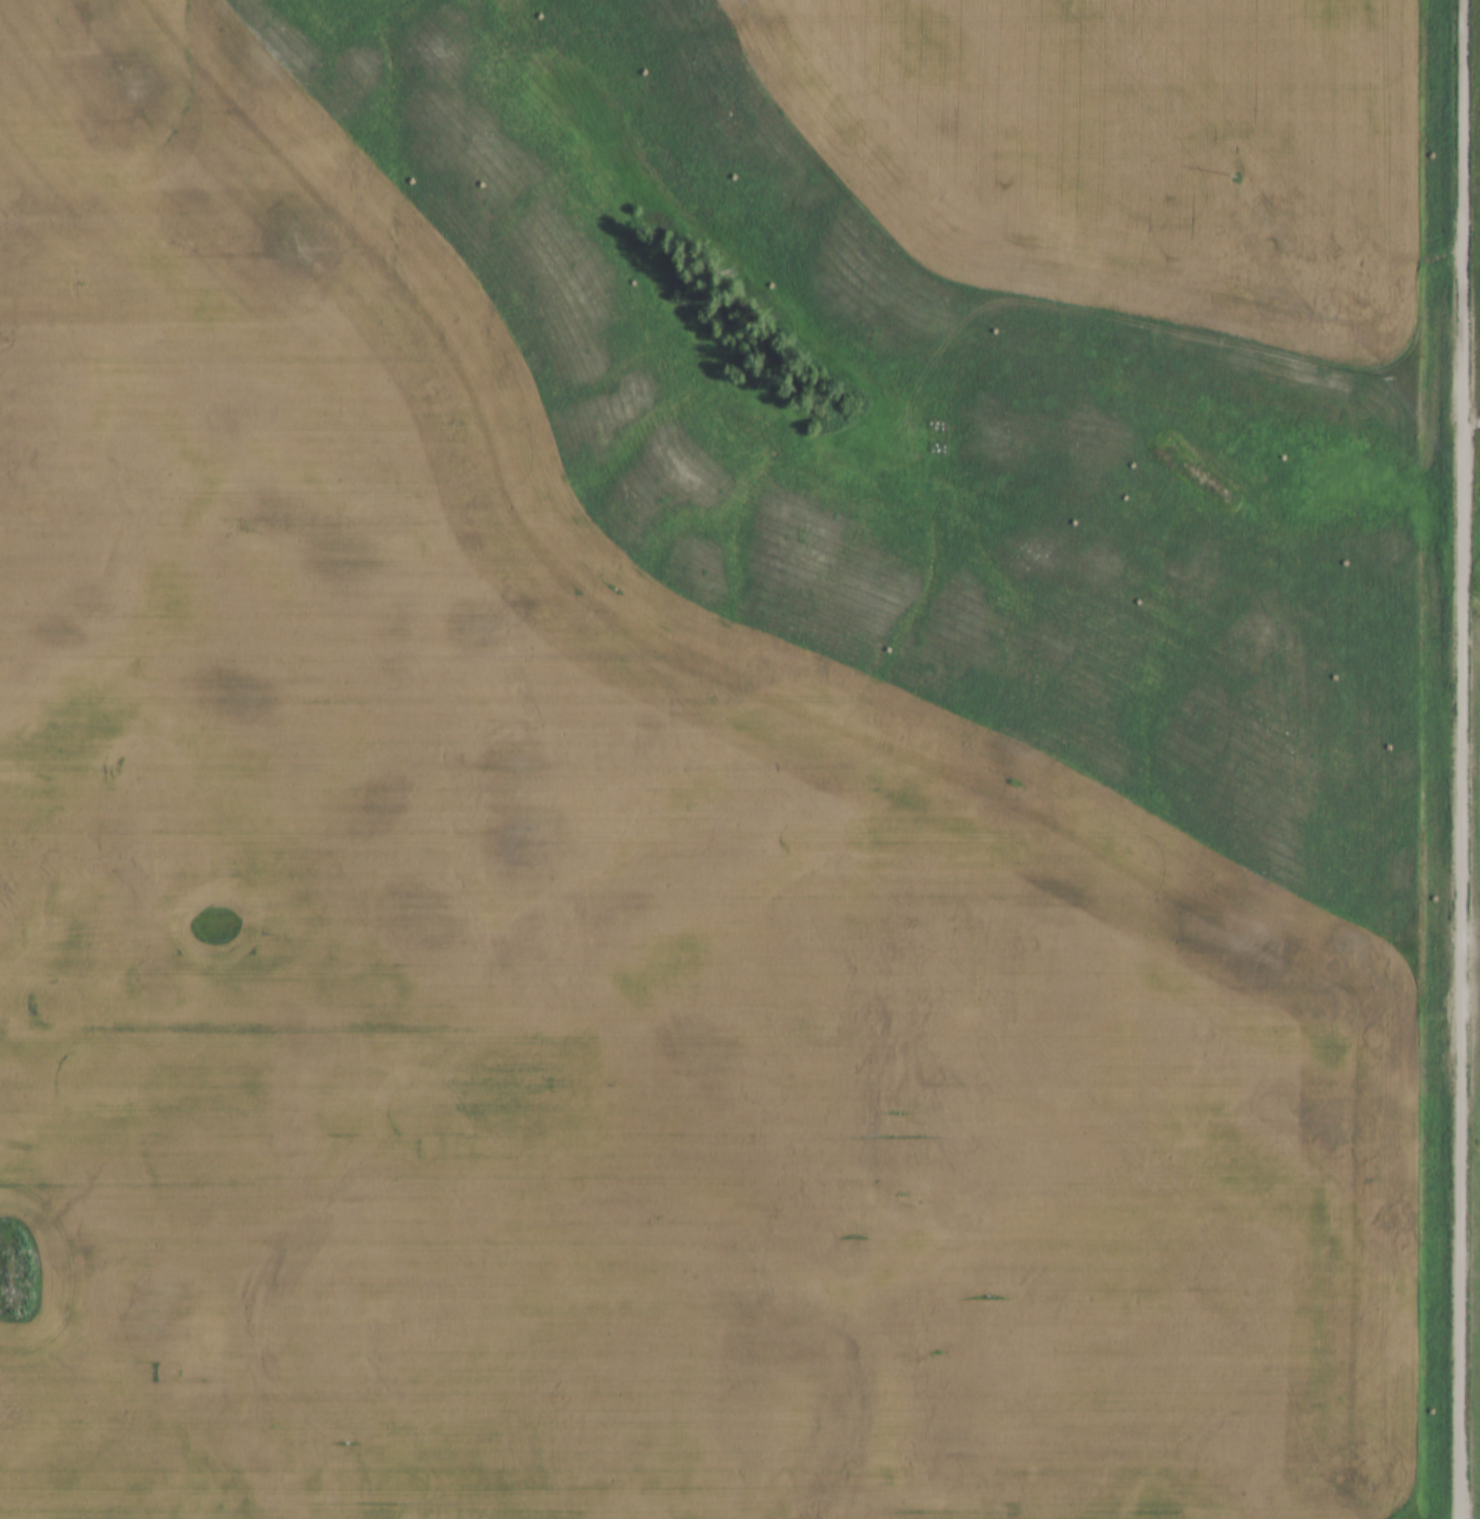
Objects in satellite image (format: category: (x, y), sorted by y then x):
road: (1472, 422)
road: (1464, 759)

